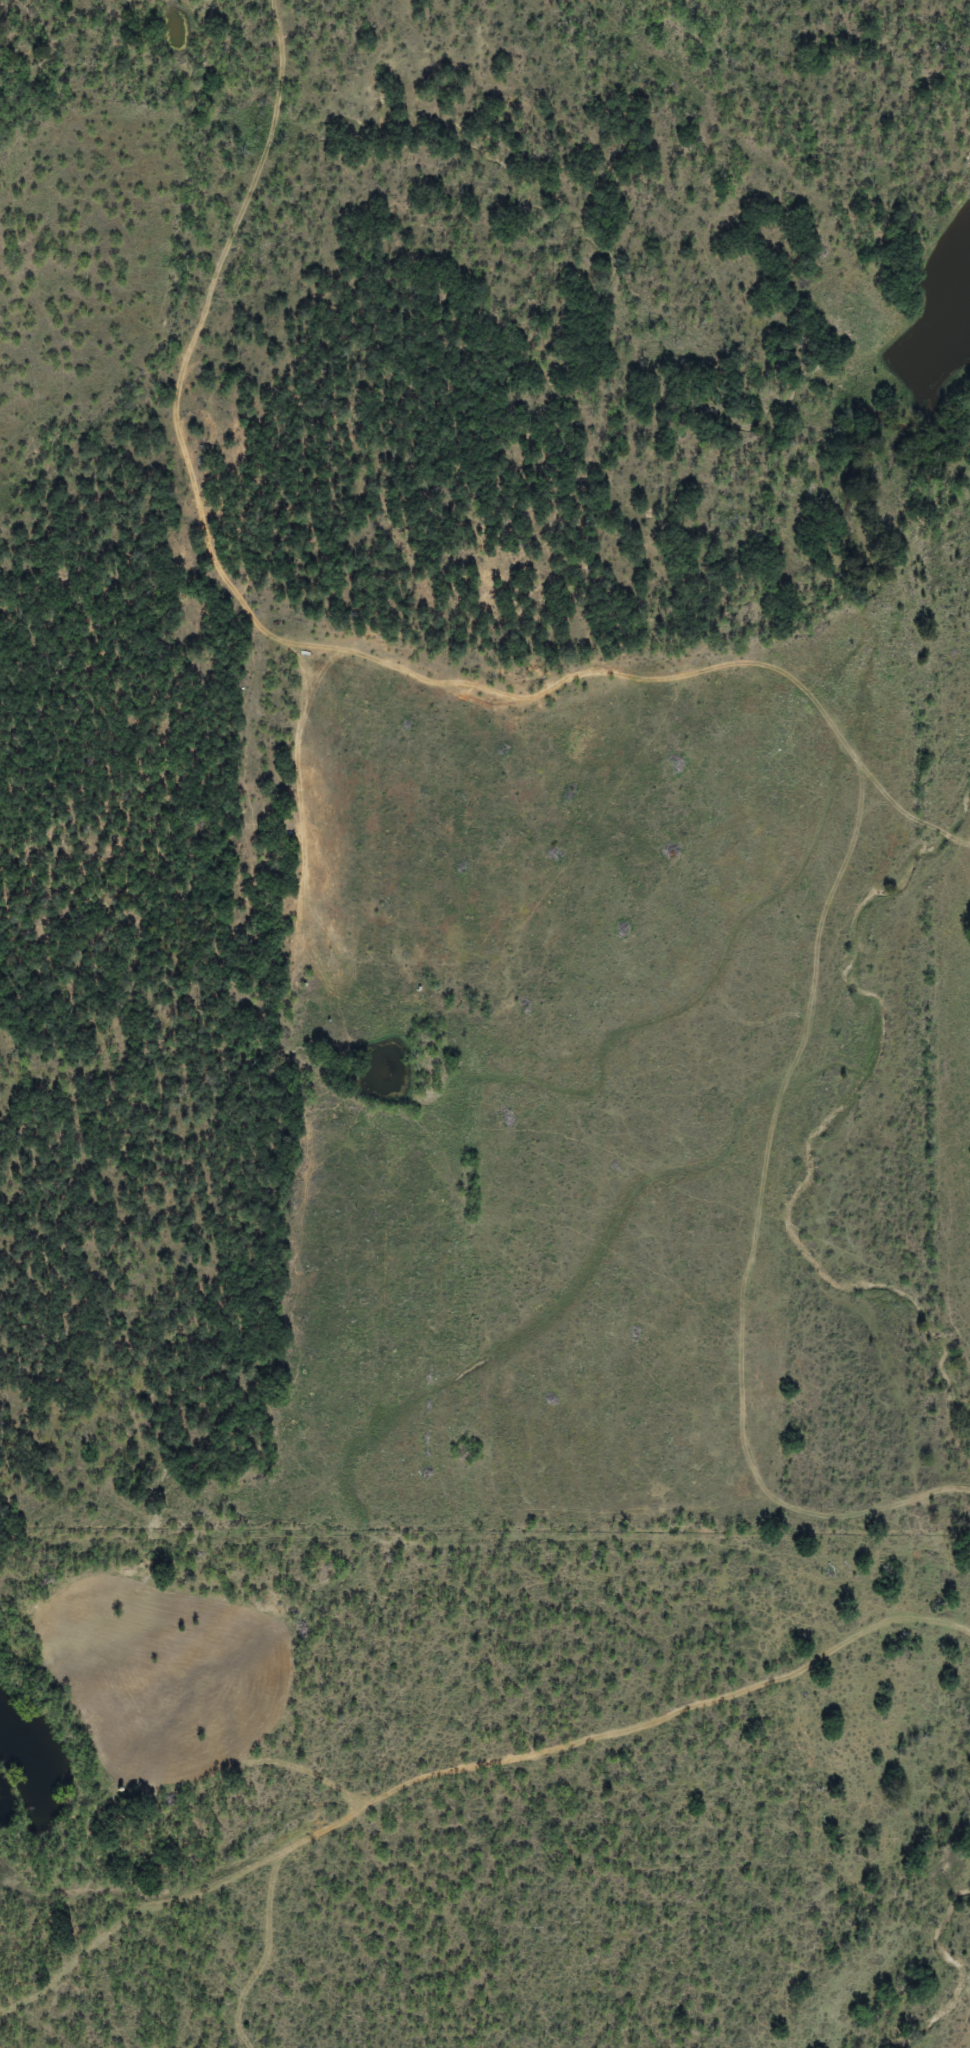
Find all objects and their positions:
road: (475, 1787)

